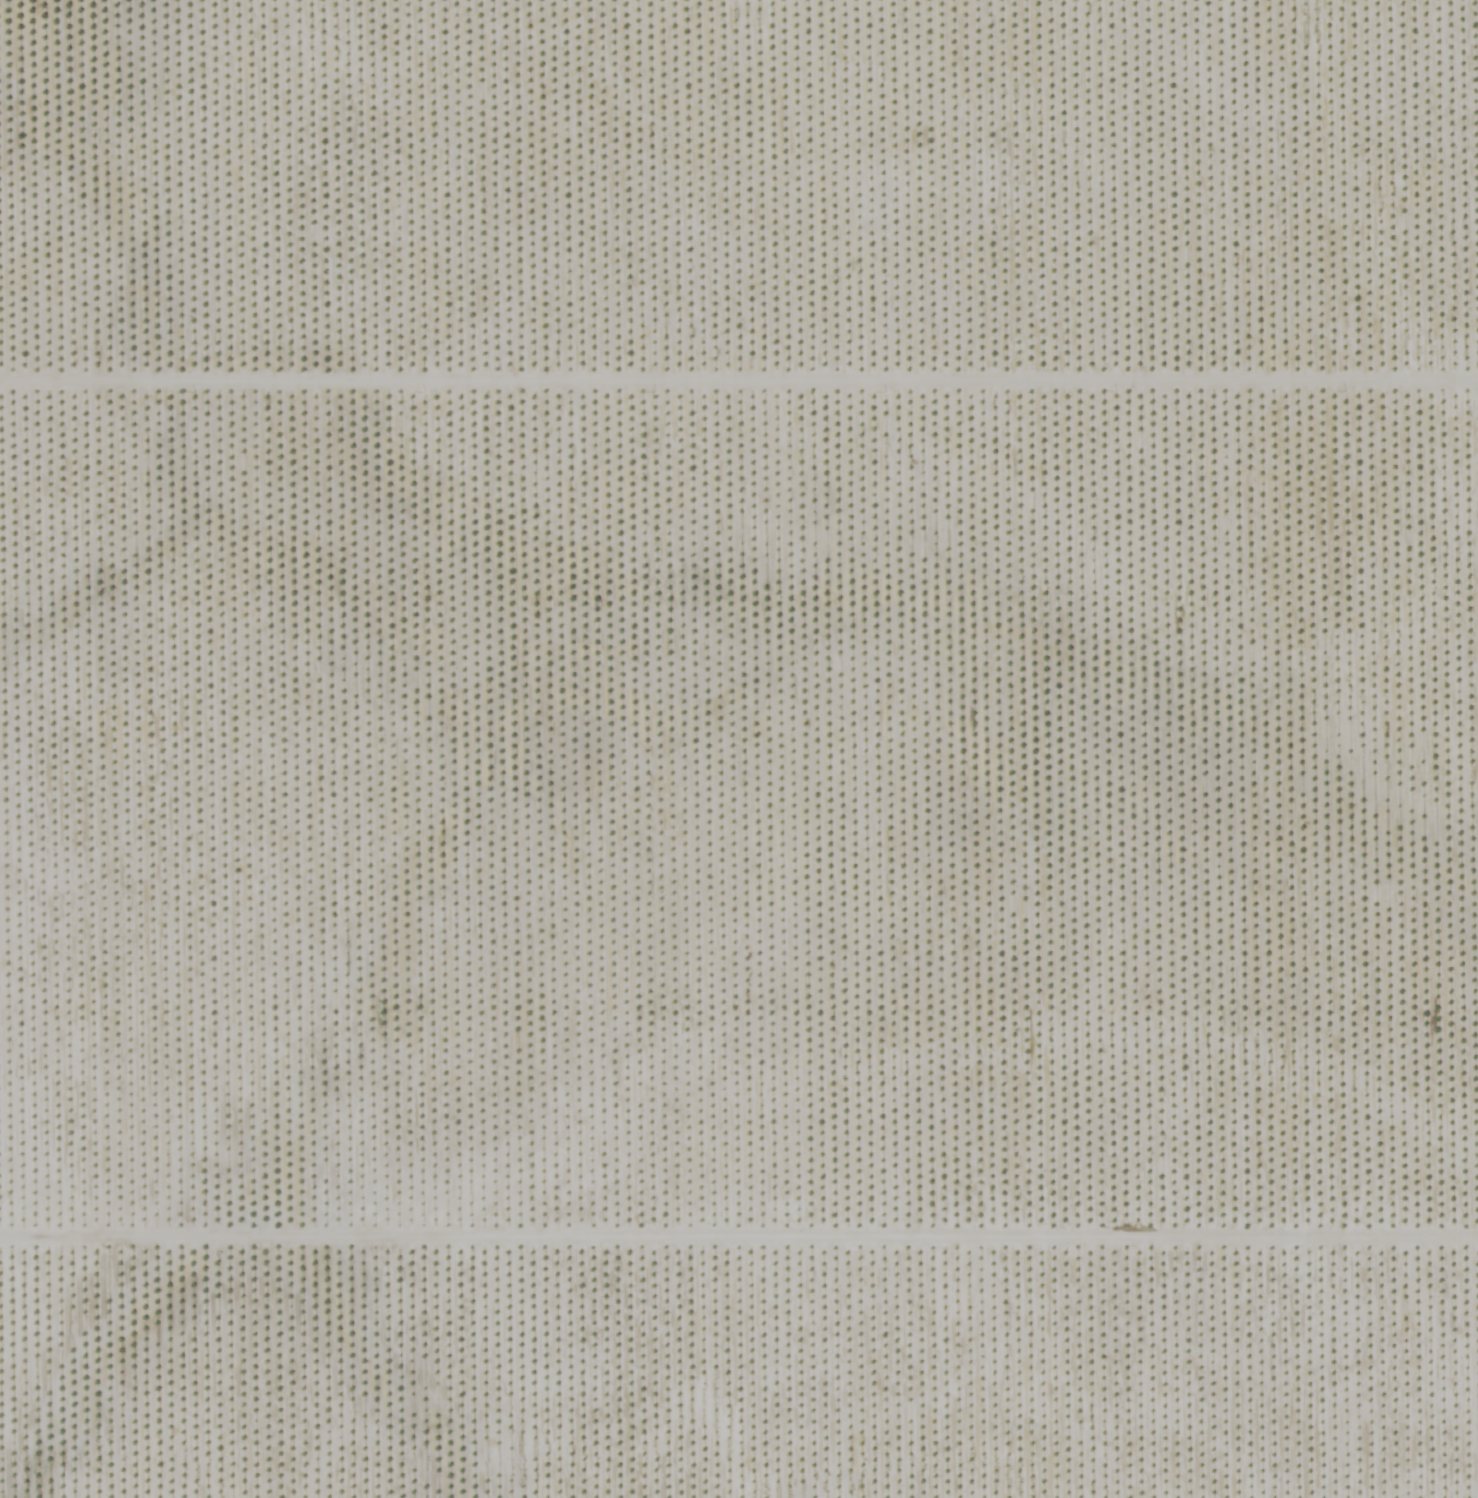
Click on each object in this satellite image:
crop: (16, 391)

